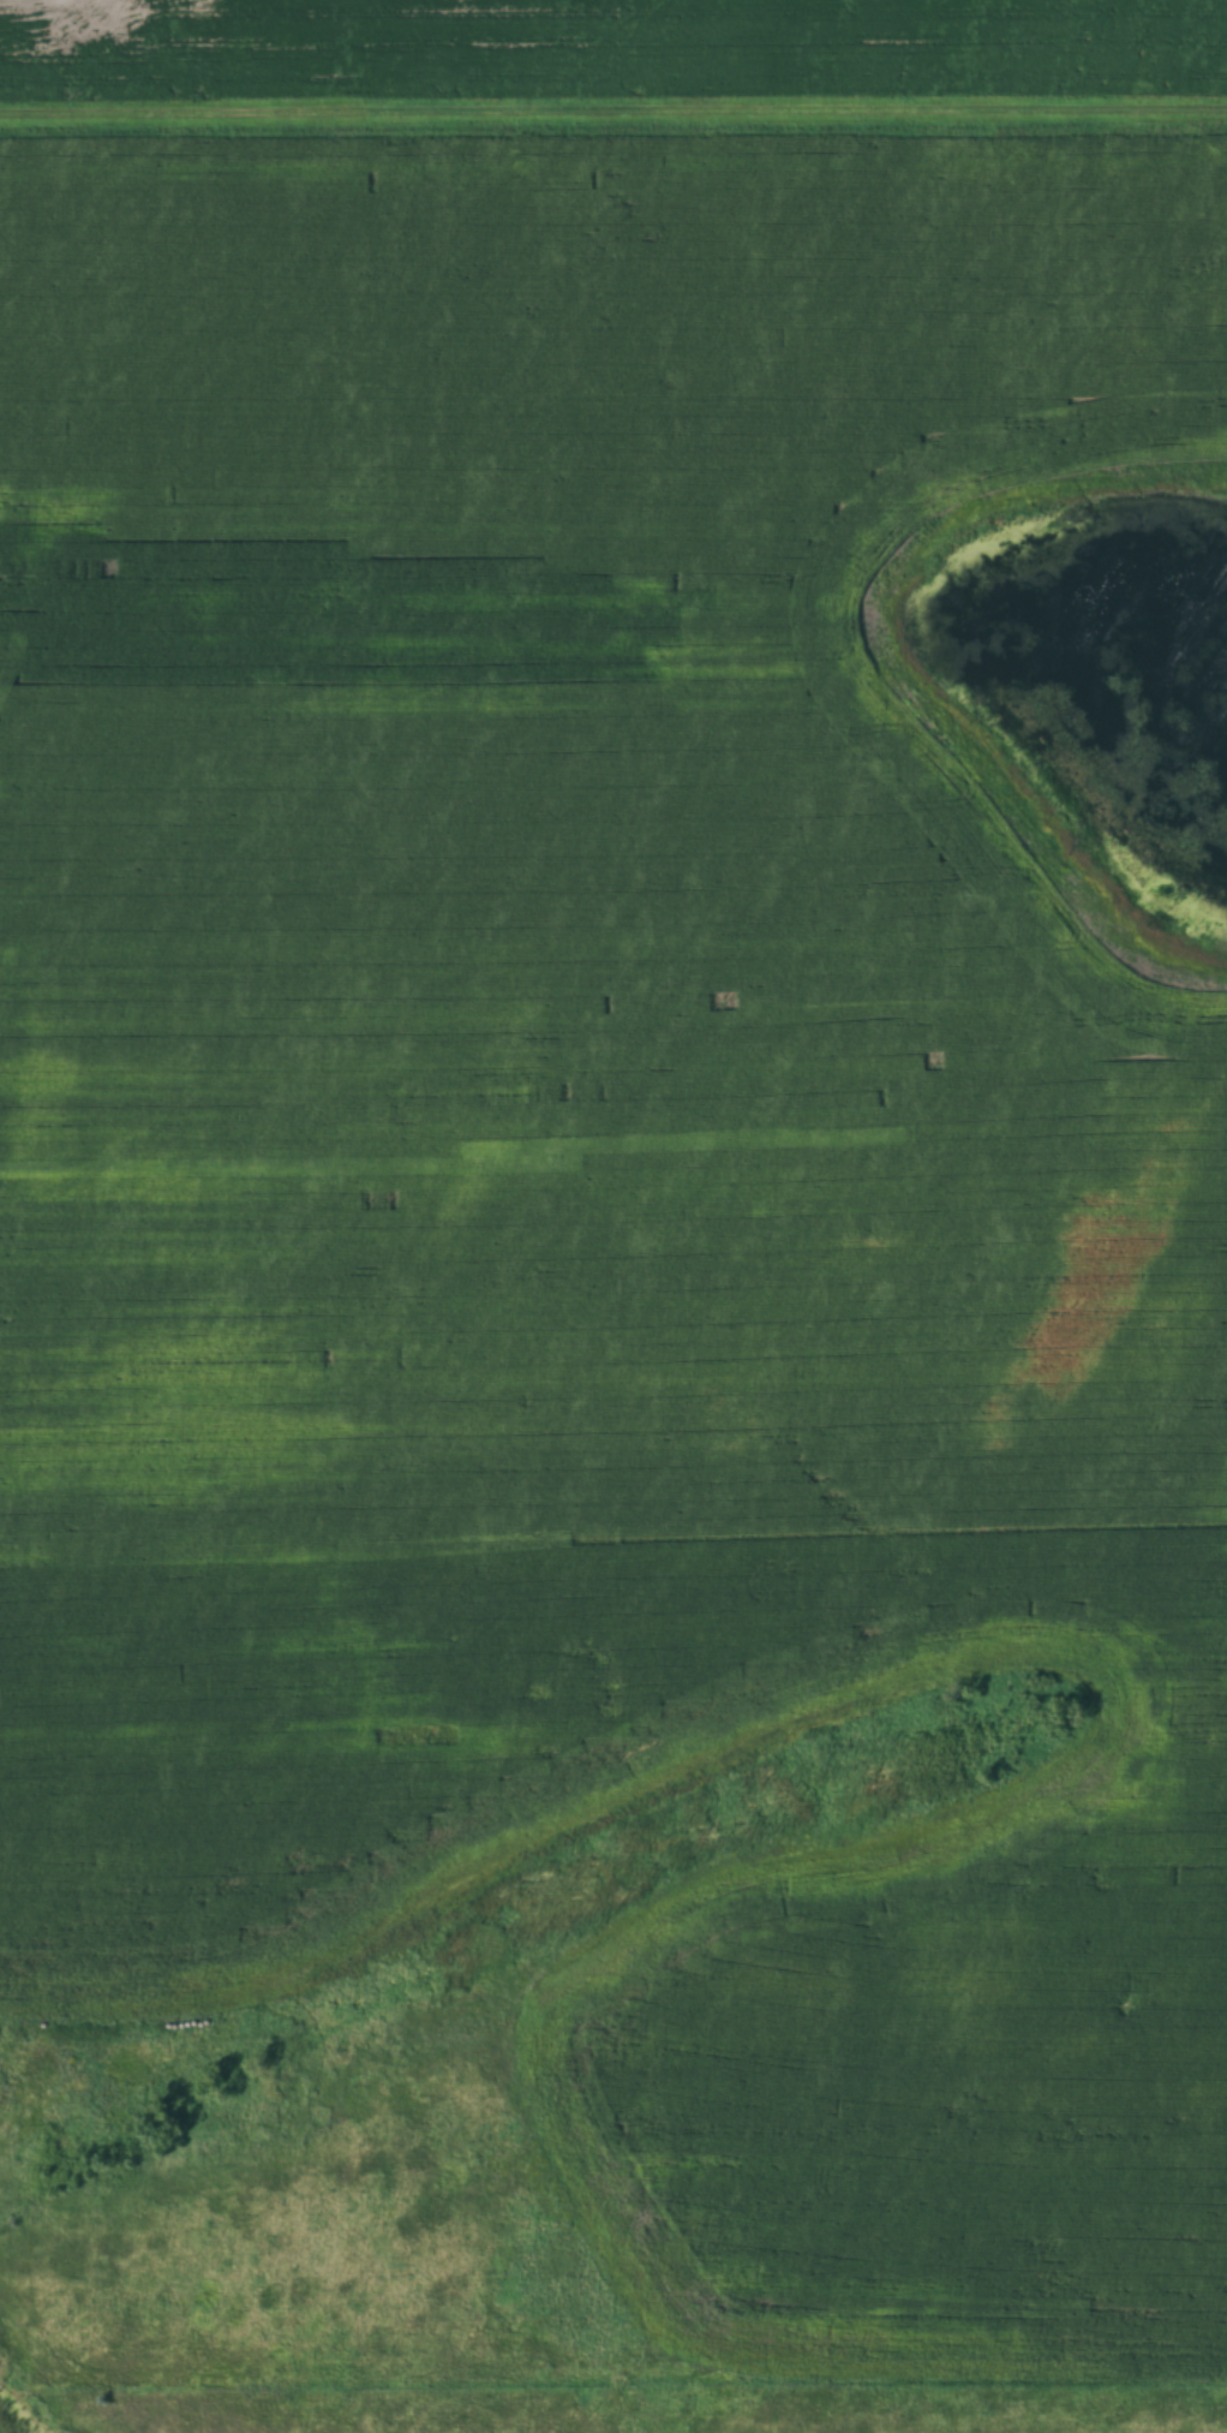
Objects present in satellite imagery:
road: (613, 118)

